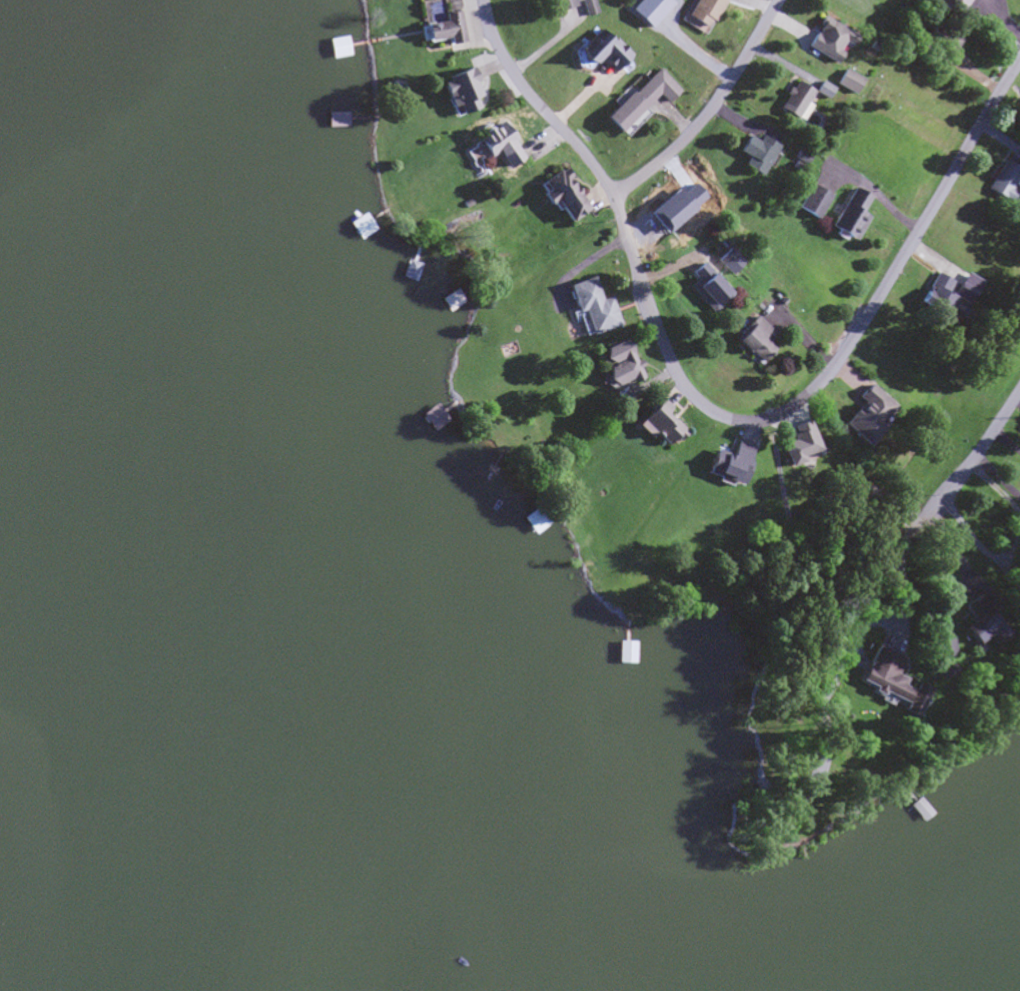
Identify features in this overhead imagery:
building: (965, 2)
building: (568, 6)
building: (650, 8)
building: (707, 9)
building: (445, 31)
building: (827, 41)
building: (337, 49)
building: (850, 79)
building: (825, 86)
building: (459, 92)
building: (639, 101)
building: (793, 101)
road: (709, 111)
building: (496, 145)
building: (755, 155)
building: (1003, 186)
building: (562, 196)
building: (815, 199)
building: (846, 216)
building: (733, 258)
building: (706, 288)
building: (453, 300)
building: (937, 301)
building: (590, 309)
building: (751, 340)
building: (618, 365)
building: (428, 410)
building: (864, 416)
road: (722, 418)
building: (659, 423)
road: (975, 460)
building: (726, 464)
building: (533, 522)
building: (1019, 583)
building: (976, 623)
building: (621, 654)
building: (886, 681)
building: (908, 802)

